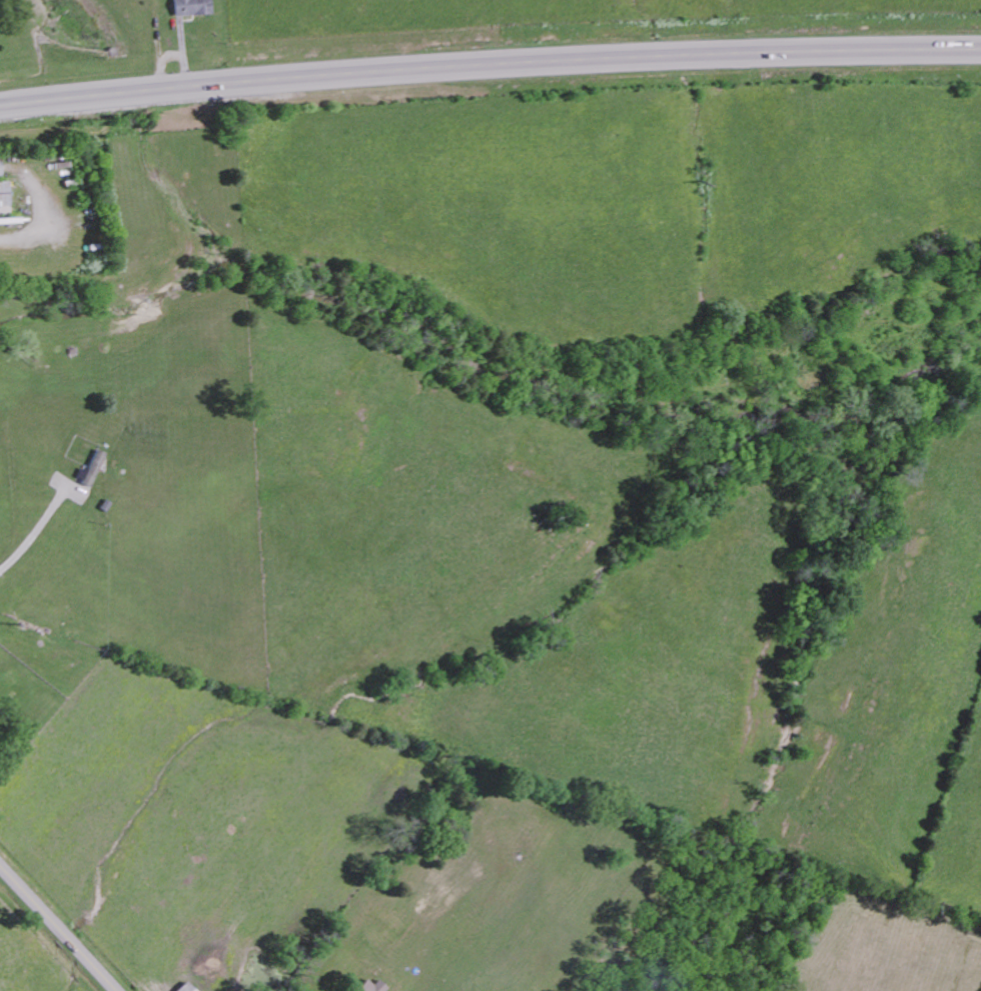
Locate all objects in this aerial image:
building: (190, 7)
road: (489, 66)
building: (5, 199)
building: (94, 468)
road: (31, 534)
road: (59, 926)
building: (370, 986)
building: (184, 987)

